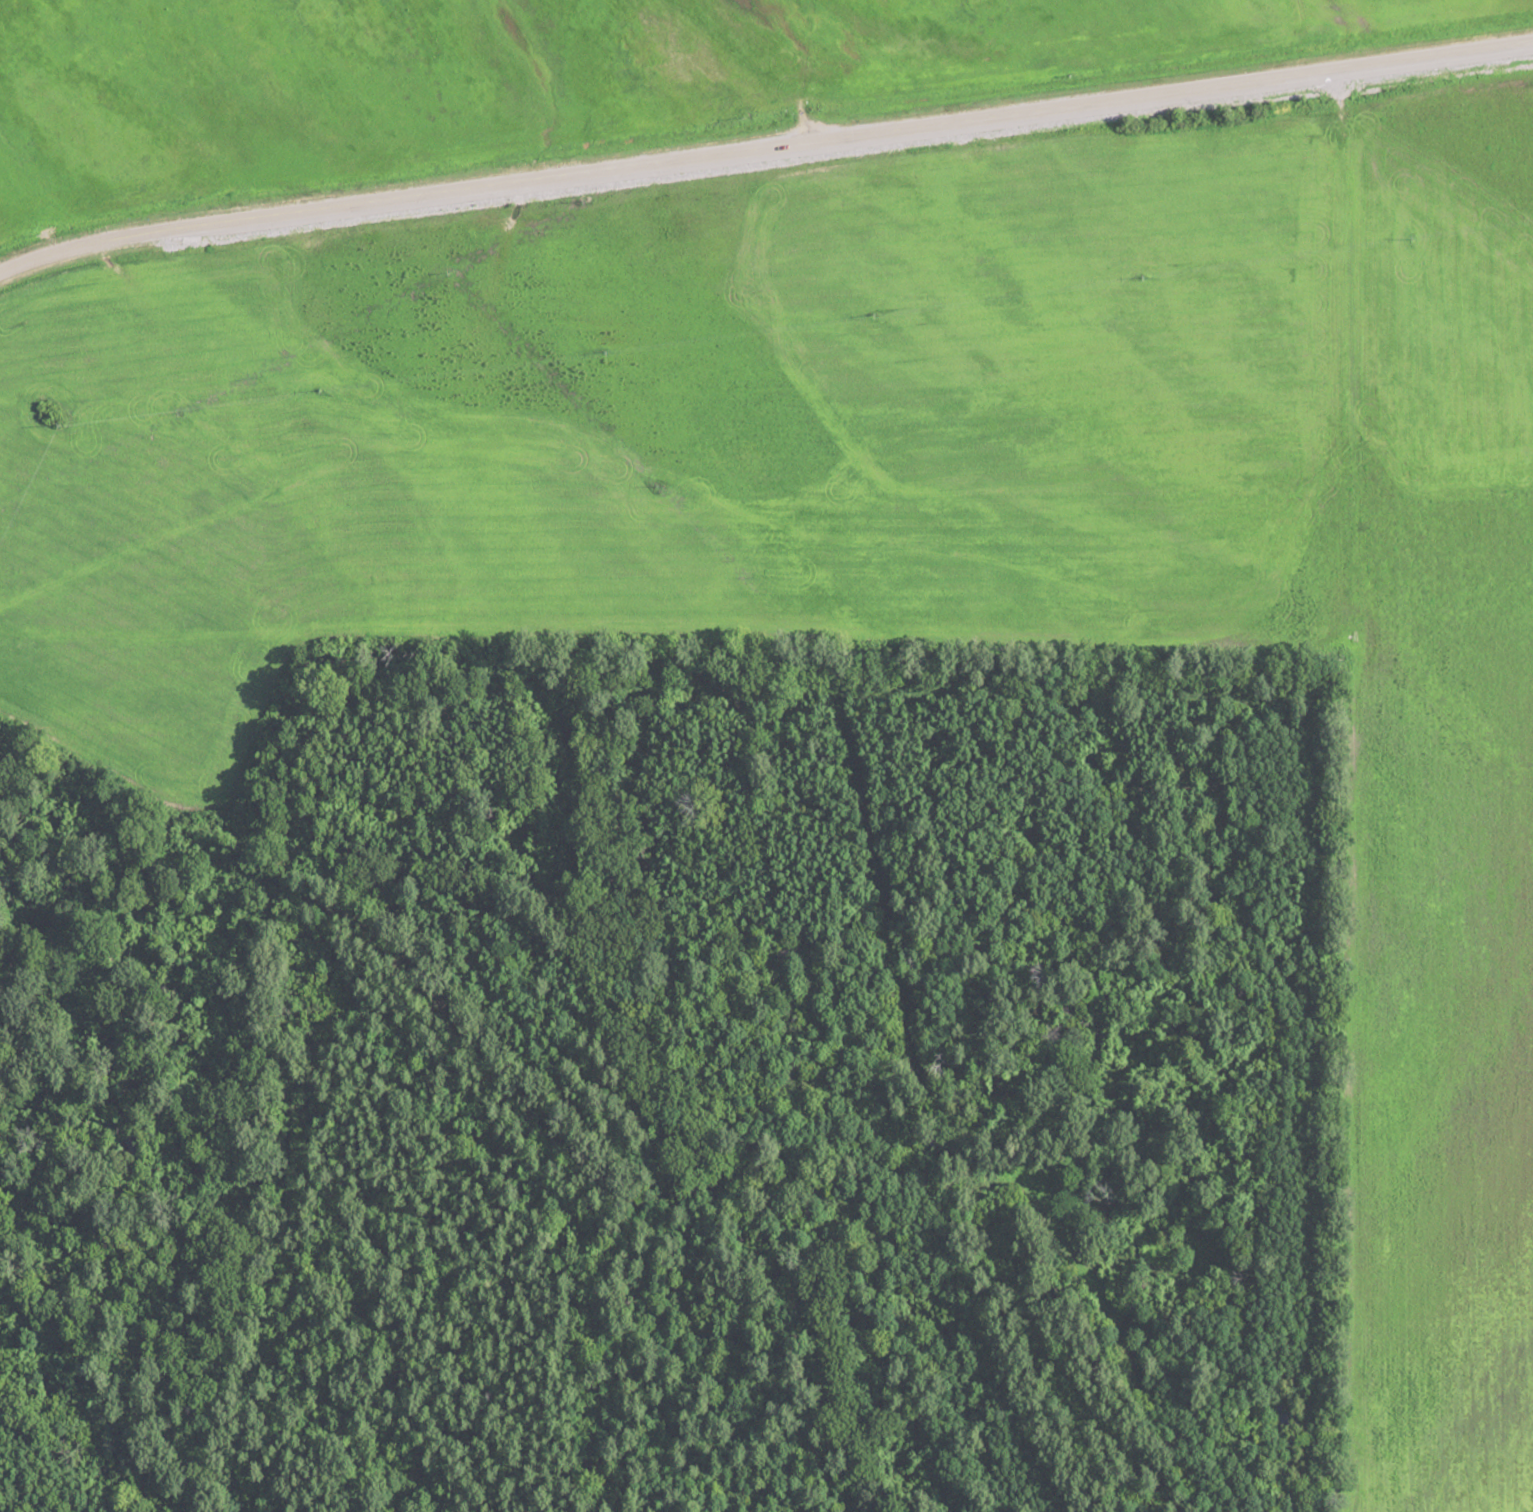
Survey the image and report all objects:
road: (763, 142)

